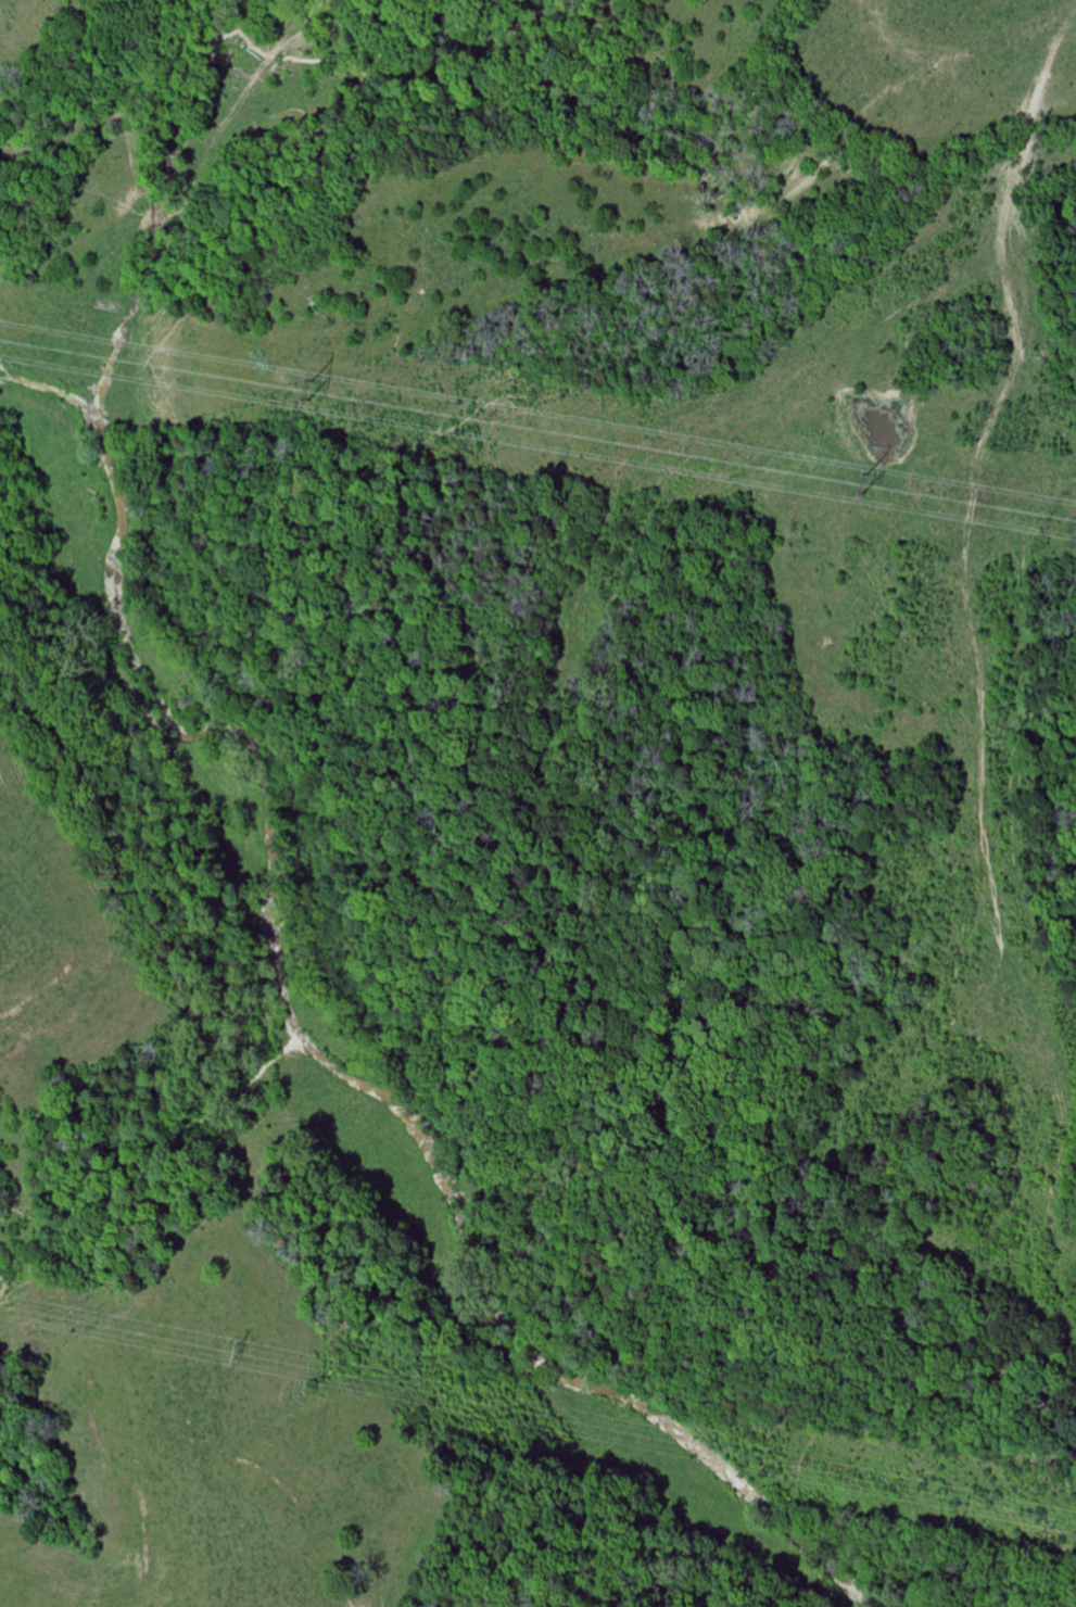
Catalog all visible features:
power tower: (306, 383)
power tower: (861, 476)
road: (98, 676)
road: (435, 1154)
power tower: (235, 1346)

